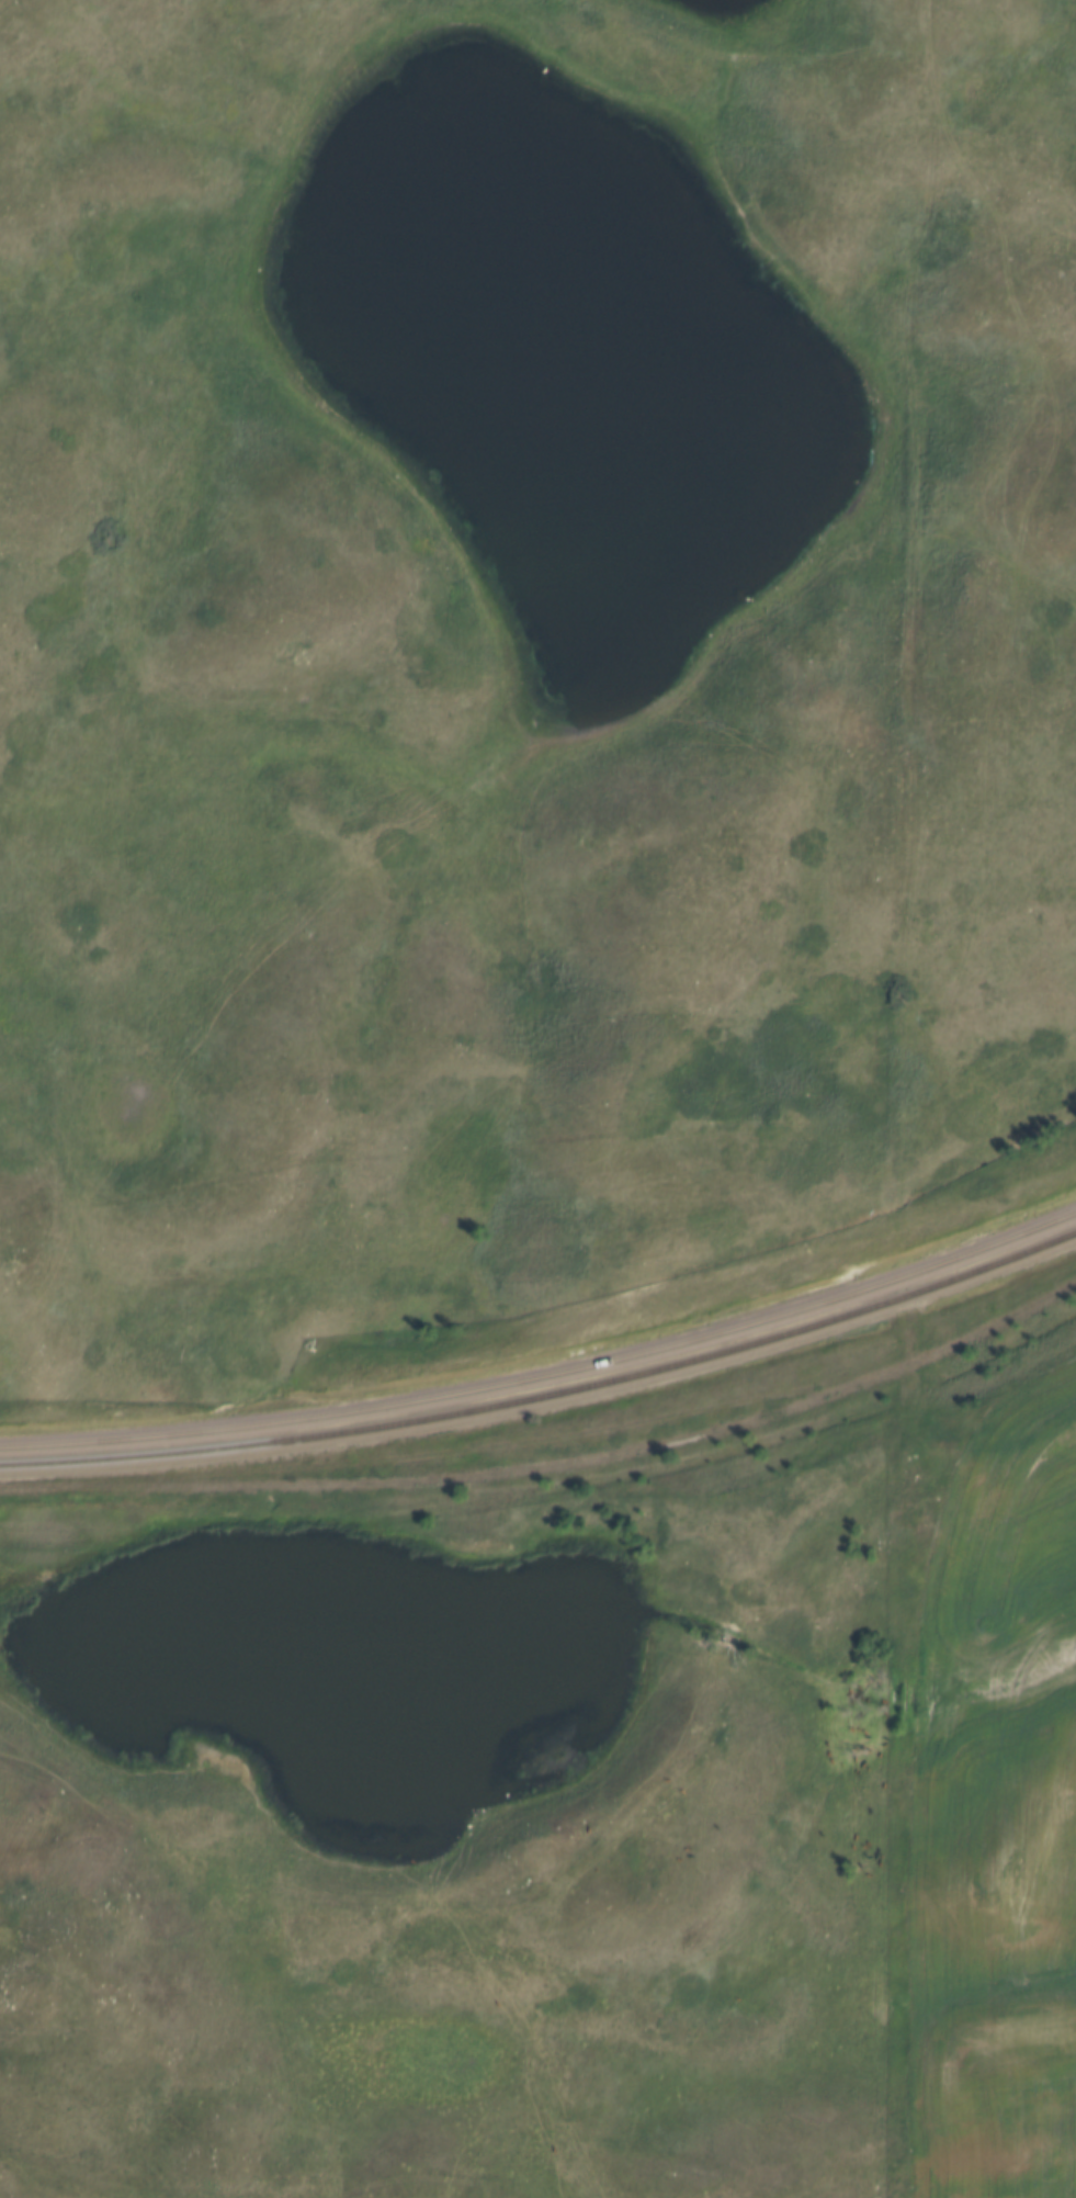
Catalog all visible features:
road: (984, 199)
road: (986, 769)
railway: (547, 1368)
railway: (547, 1395)

